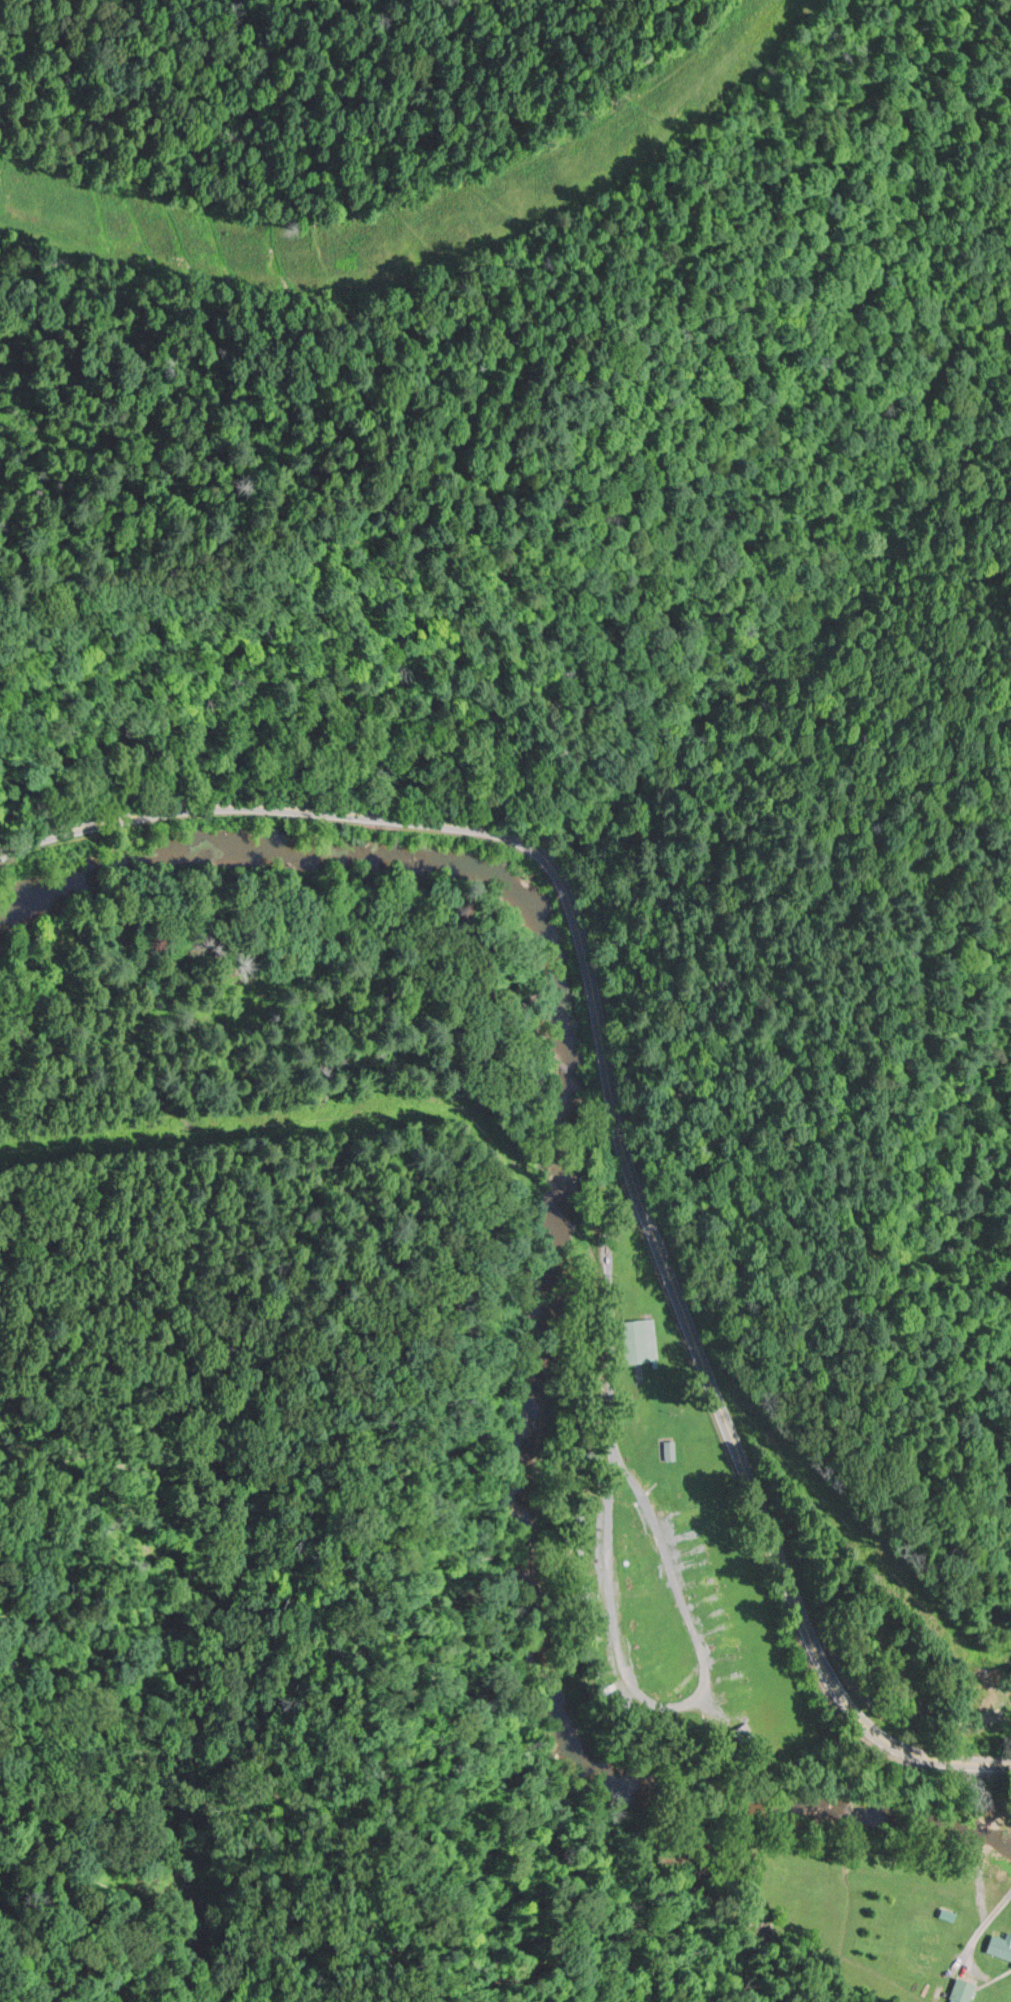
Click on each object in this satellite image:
road: (615, 1101)
river: (547, 1279)
building: (648, 1347)
road: (609, 1378)
road: (701, 1661)
road: (983, 1927)

